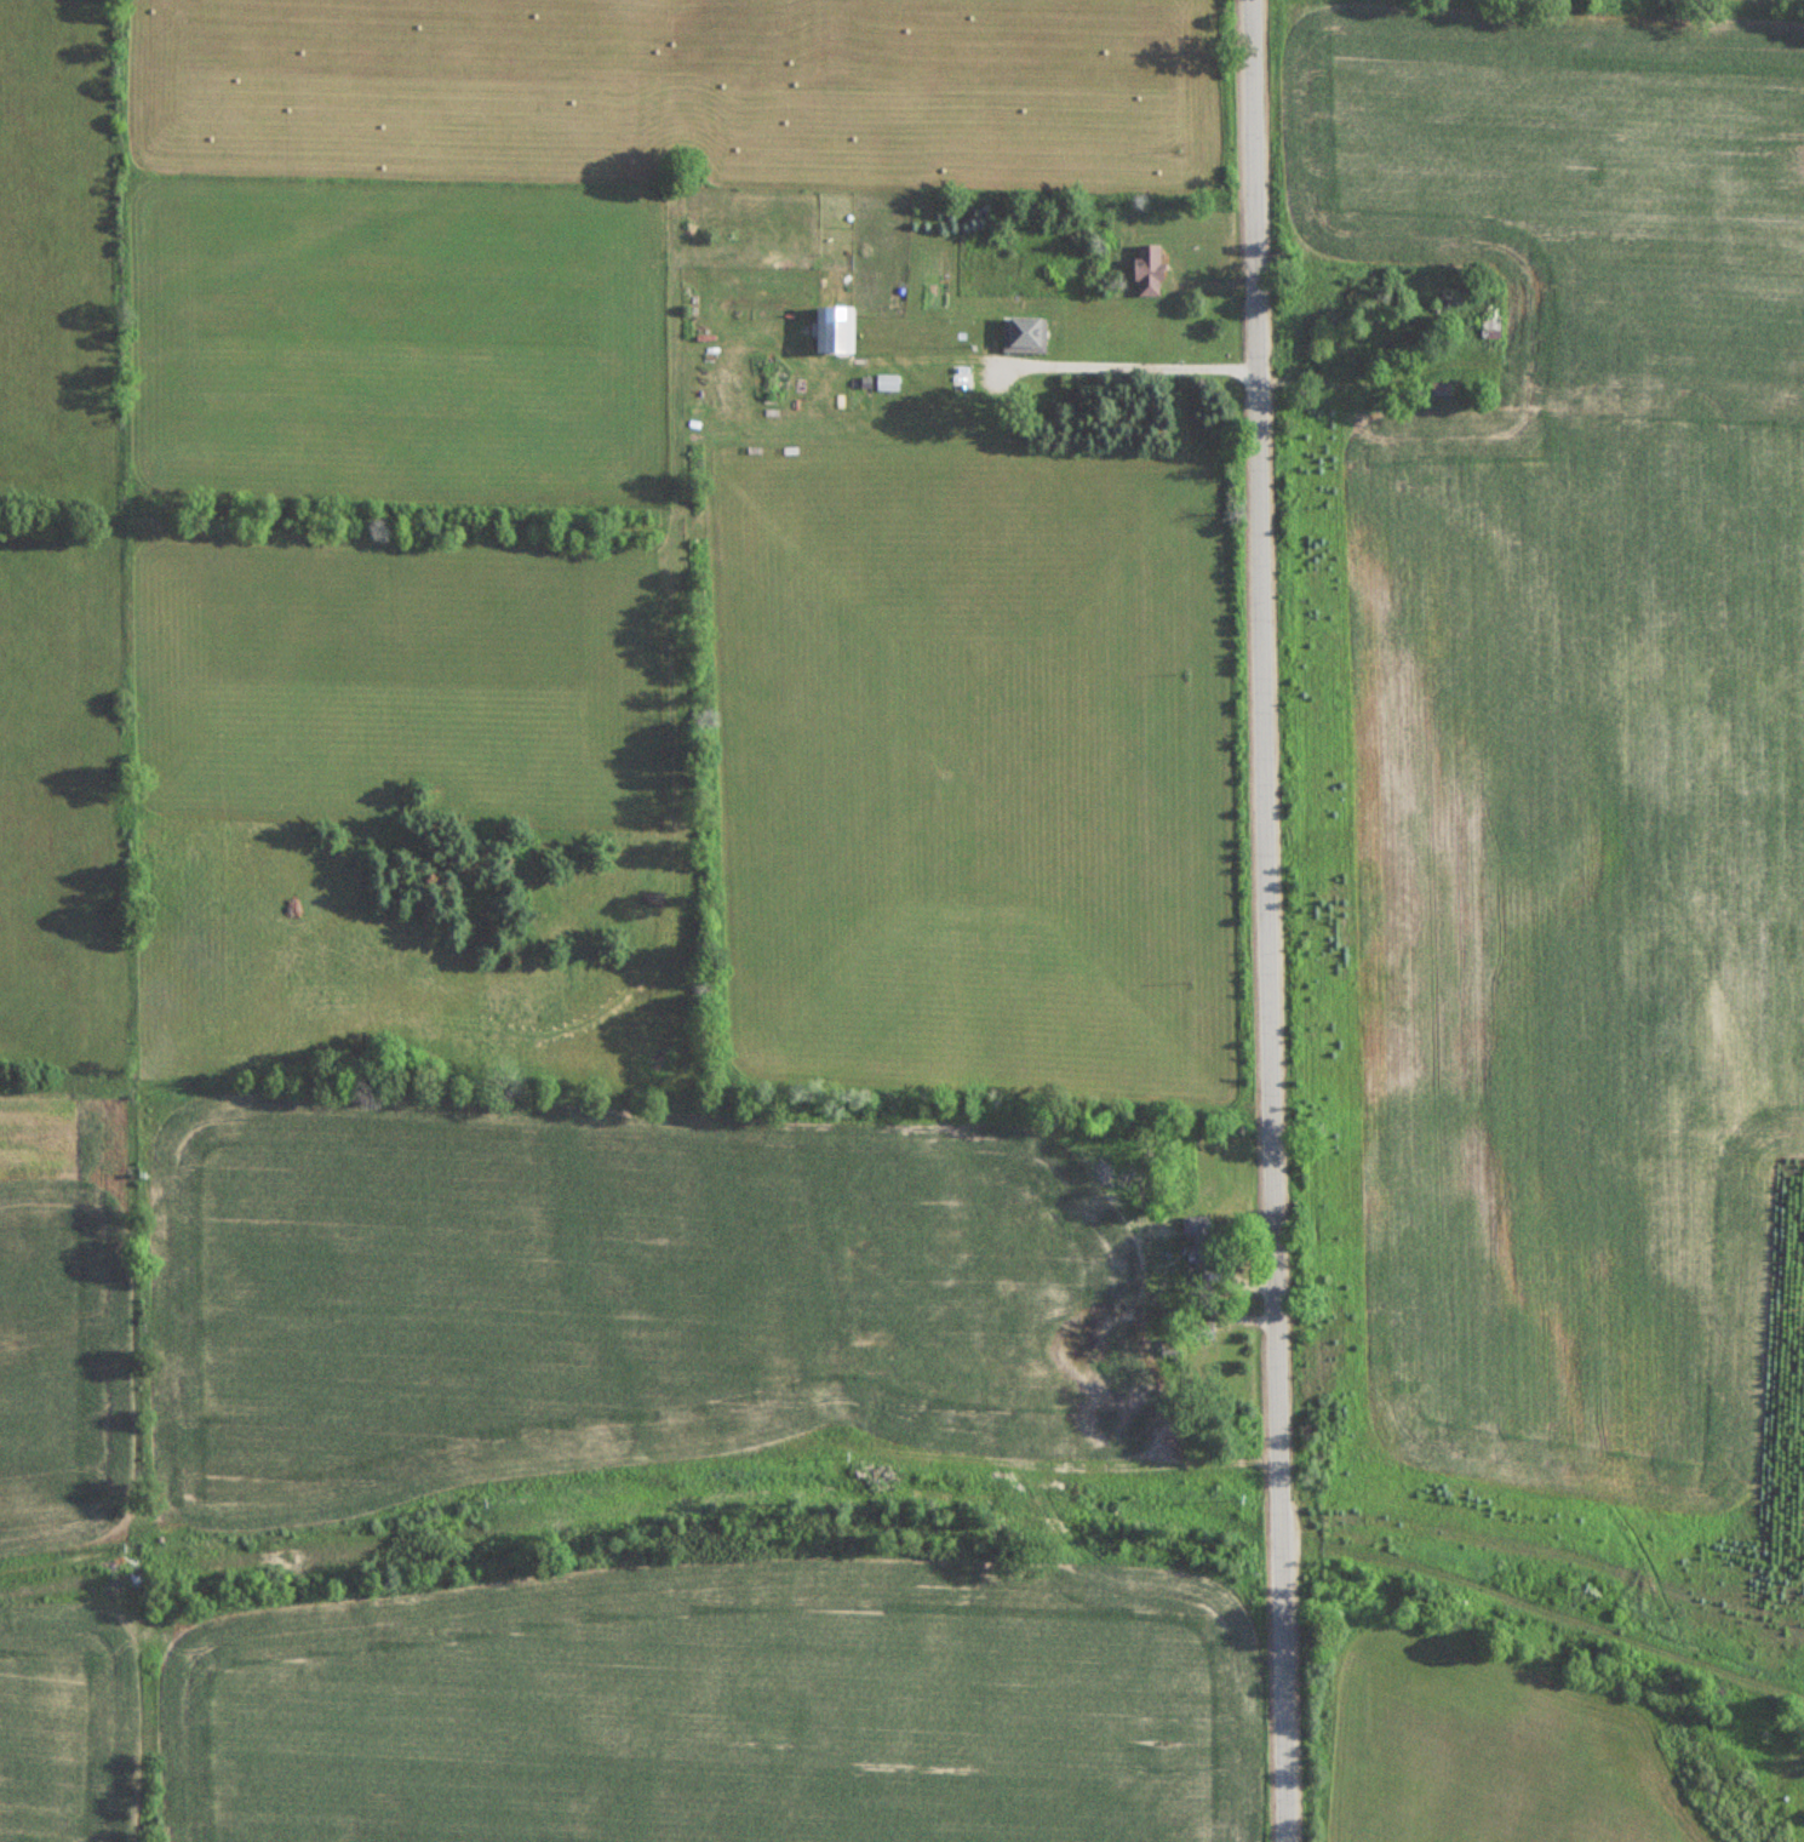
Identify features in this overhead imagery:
building: (1146, 270)
building: (1488, 326)
building: (832, 331)
building: (1023, 336)
building: (960, 378)
building: (886, 383)
building: (1439, 389)
road: (1268, 920)
building: (1196, 1225)

